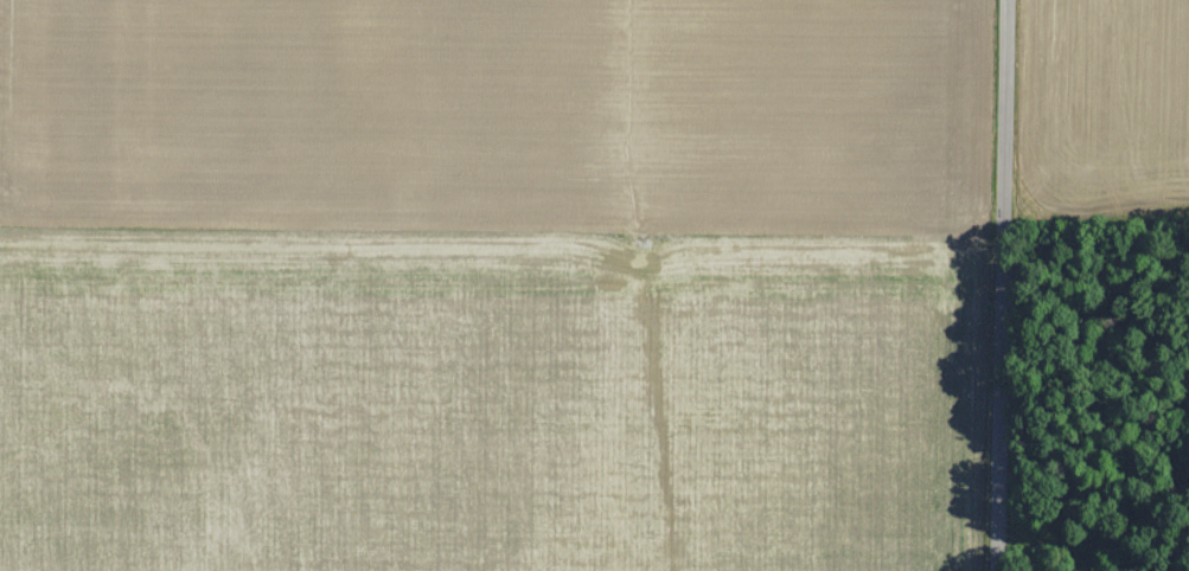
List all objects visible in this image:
road: (1001, 284)

